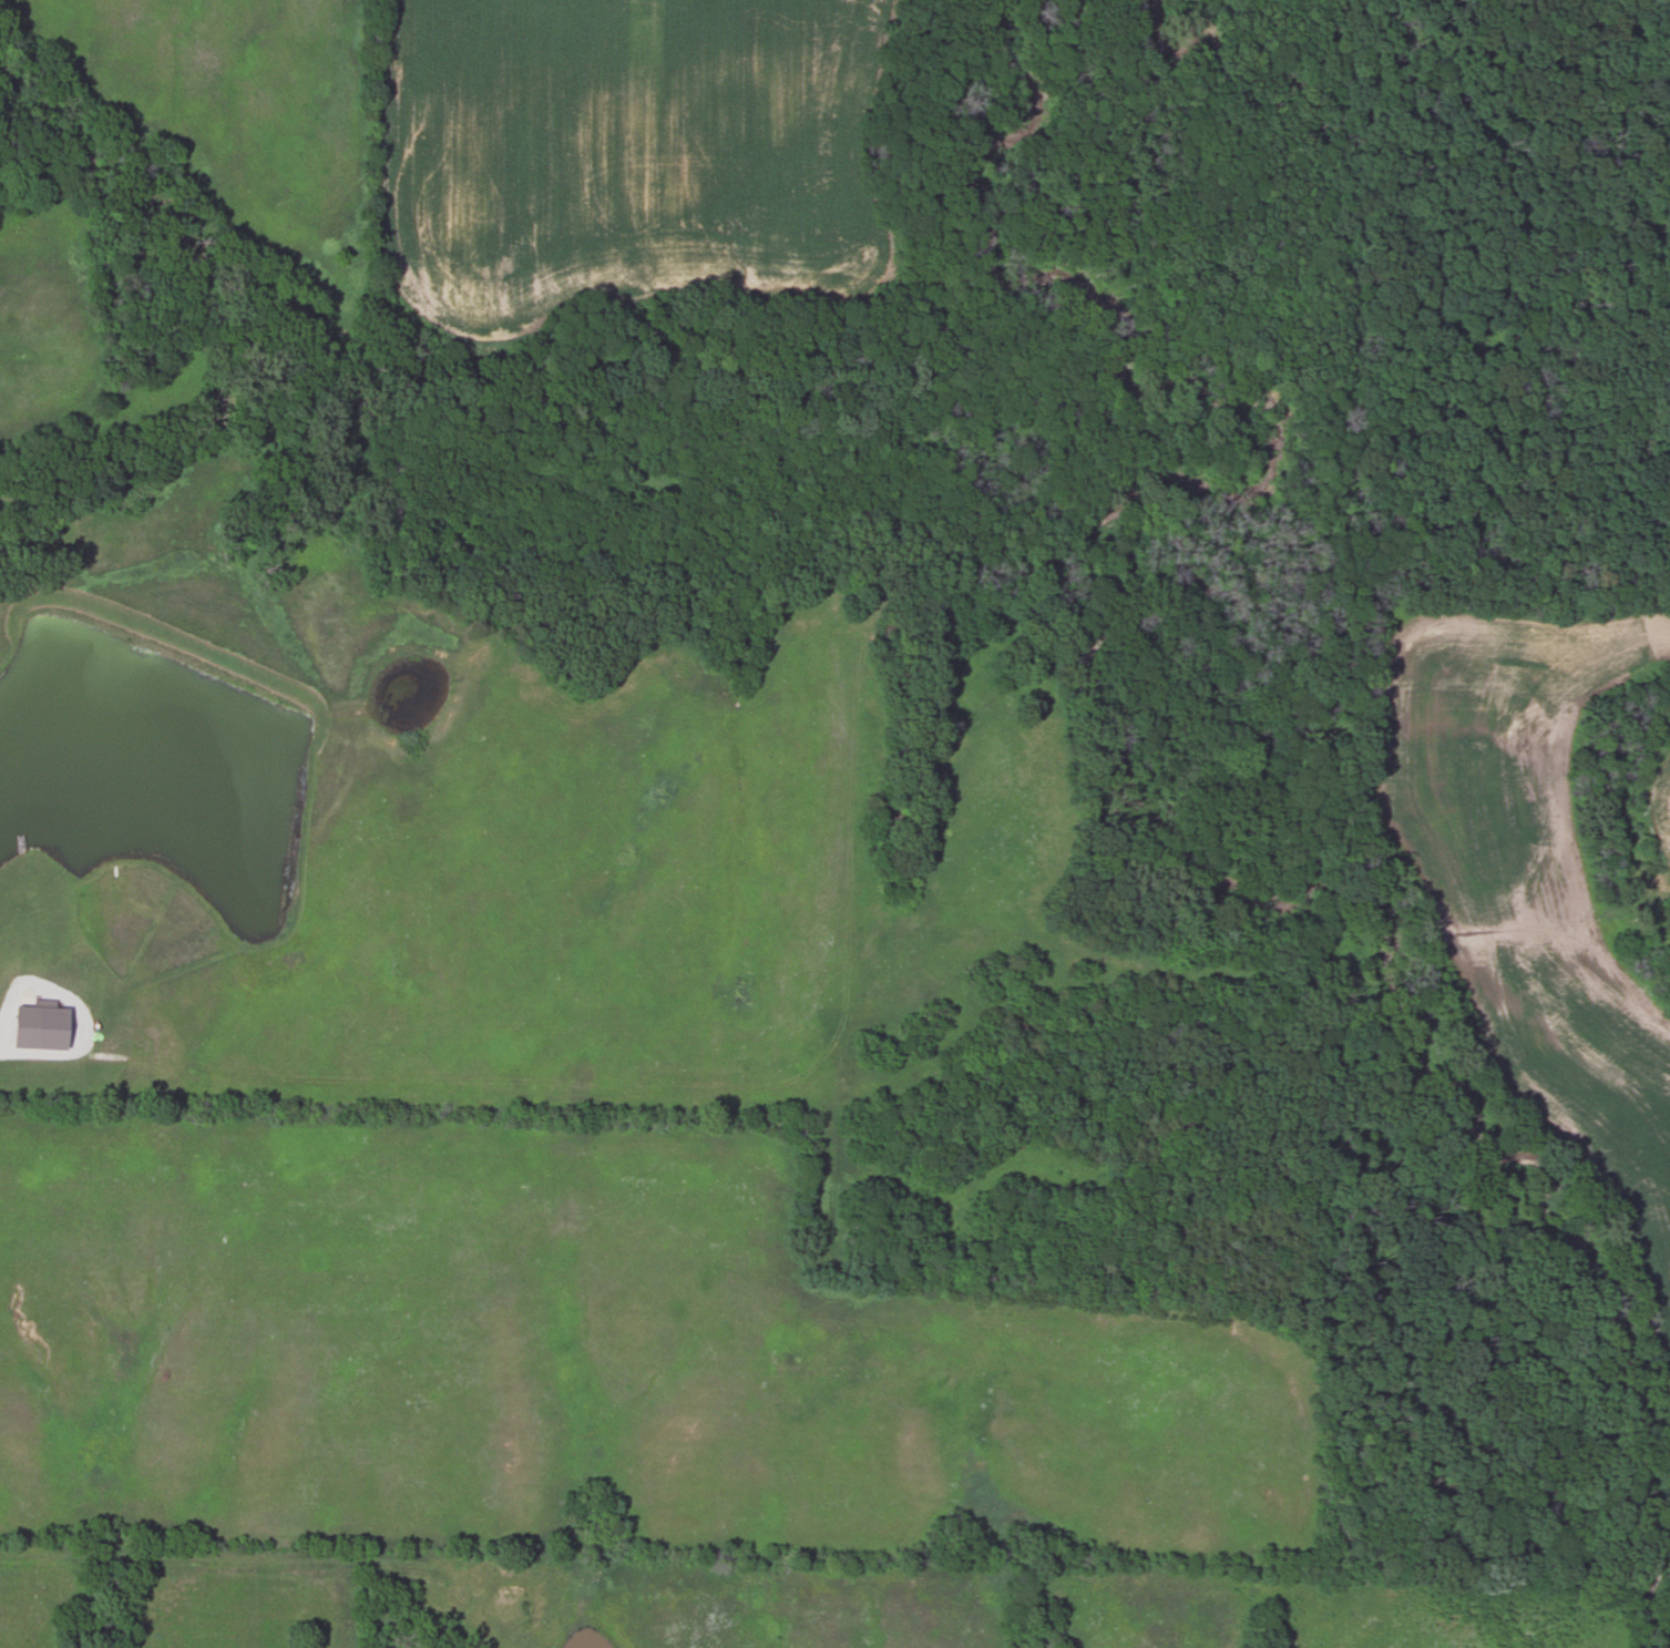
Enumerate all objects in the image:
building: (40, 1026)
building: (506, 1614)

